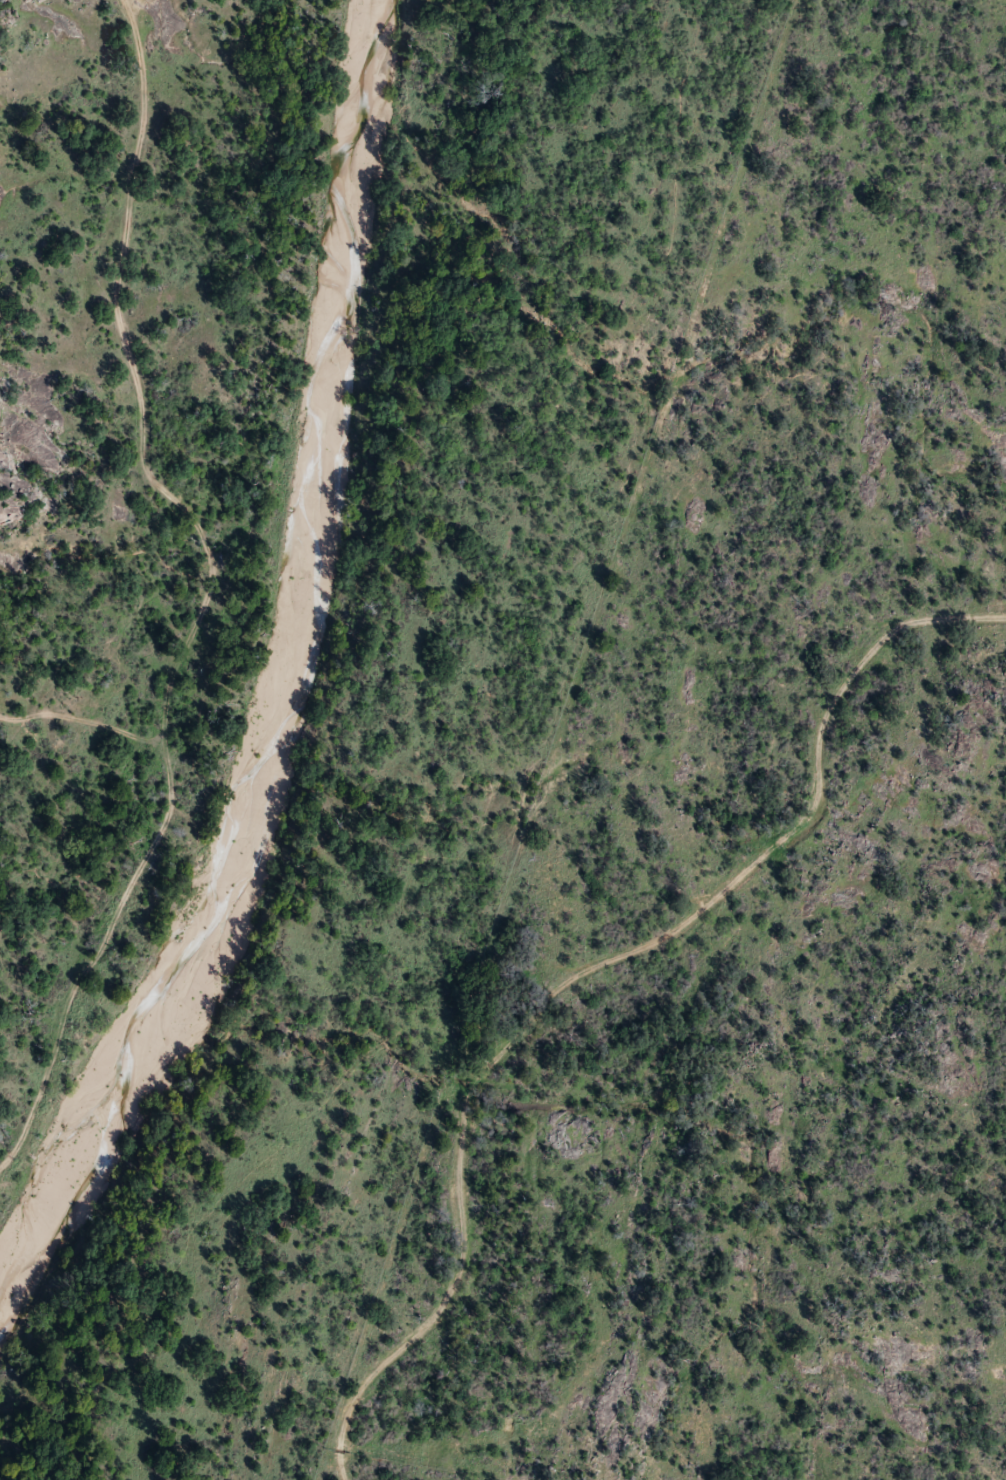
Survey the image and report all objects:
river: (278, 678)
road: (5, 1159)

